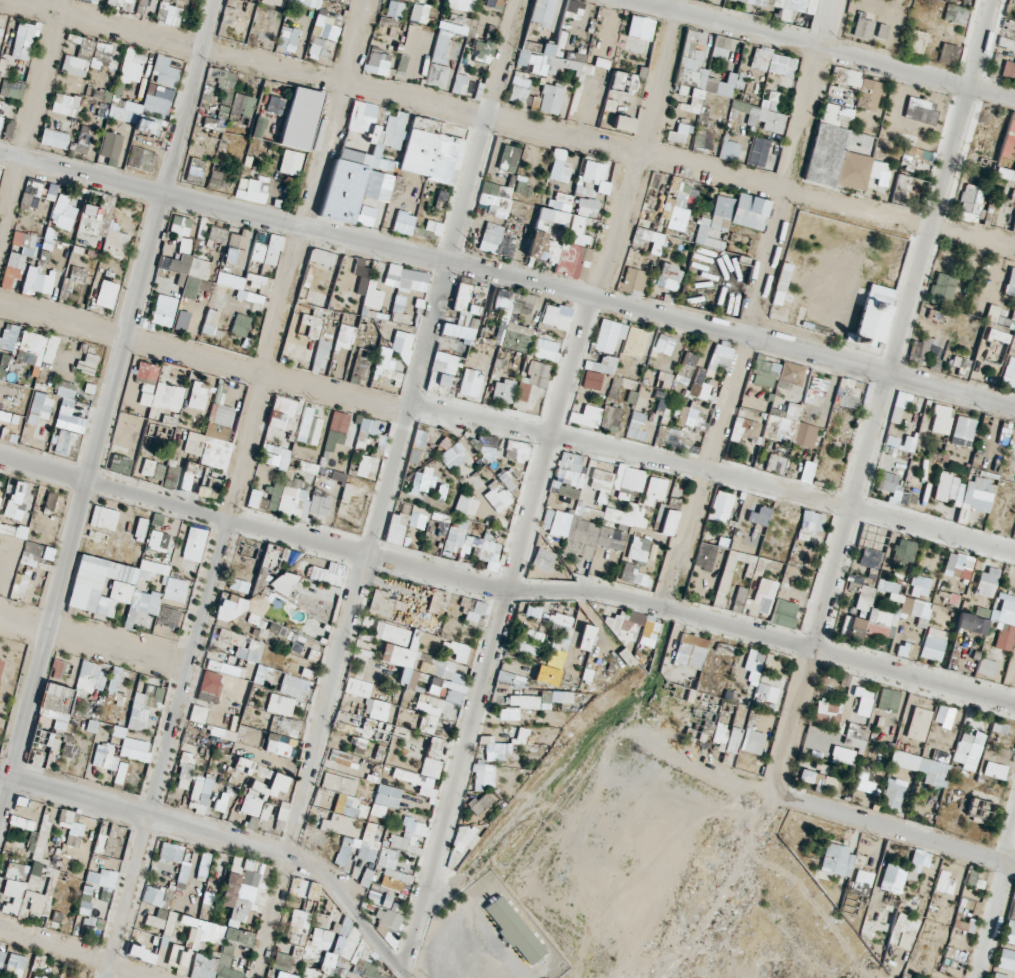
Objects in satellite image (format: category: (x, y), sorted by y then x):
park: (643, 813)

